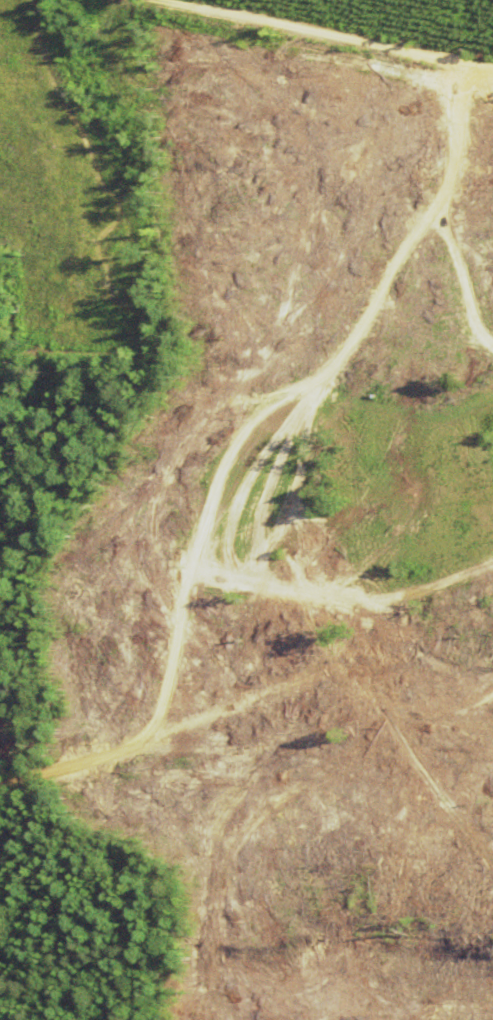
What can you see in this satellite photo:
road: (318, 34)

